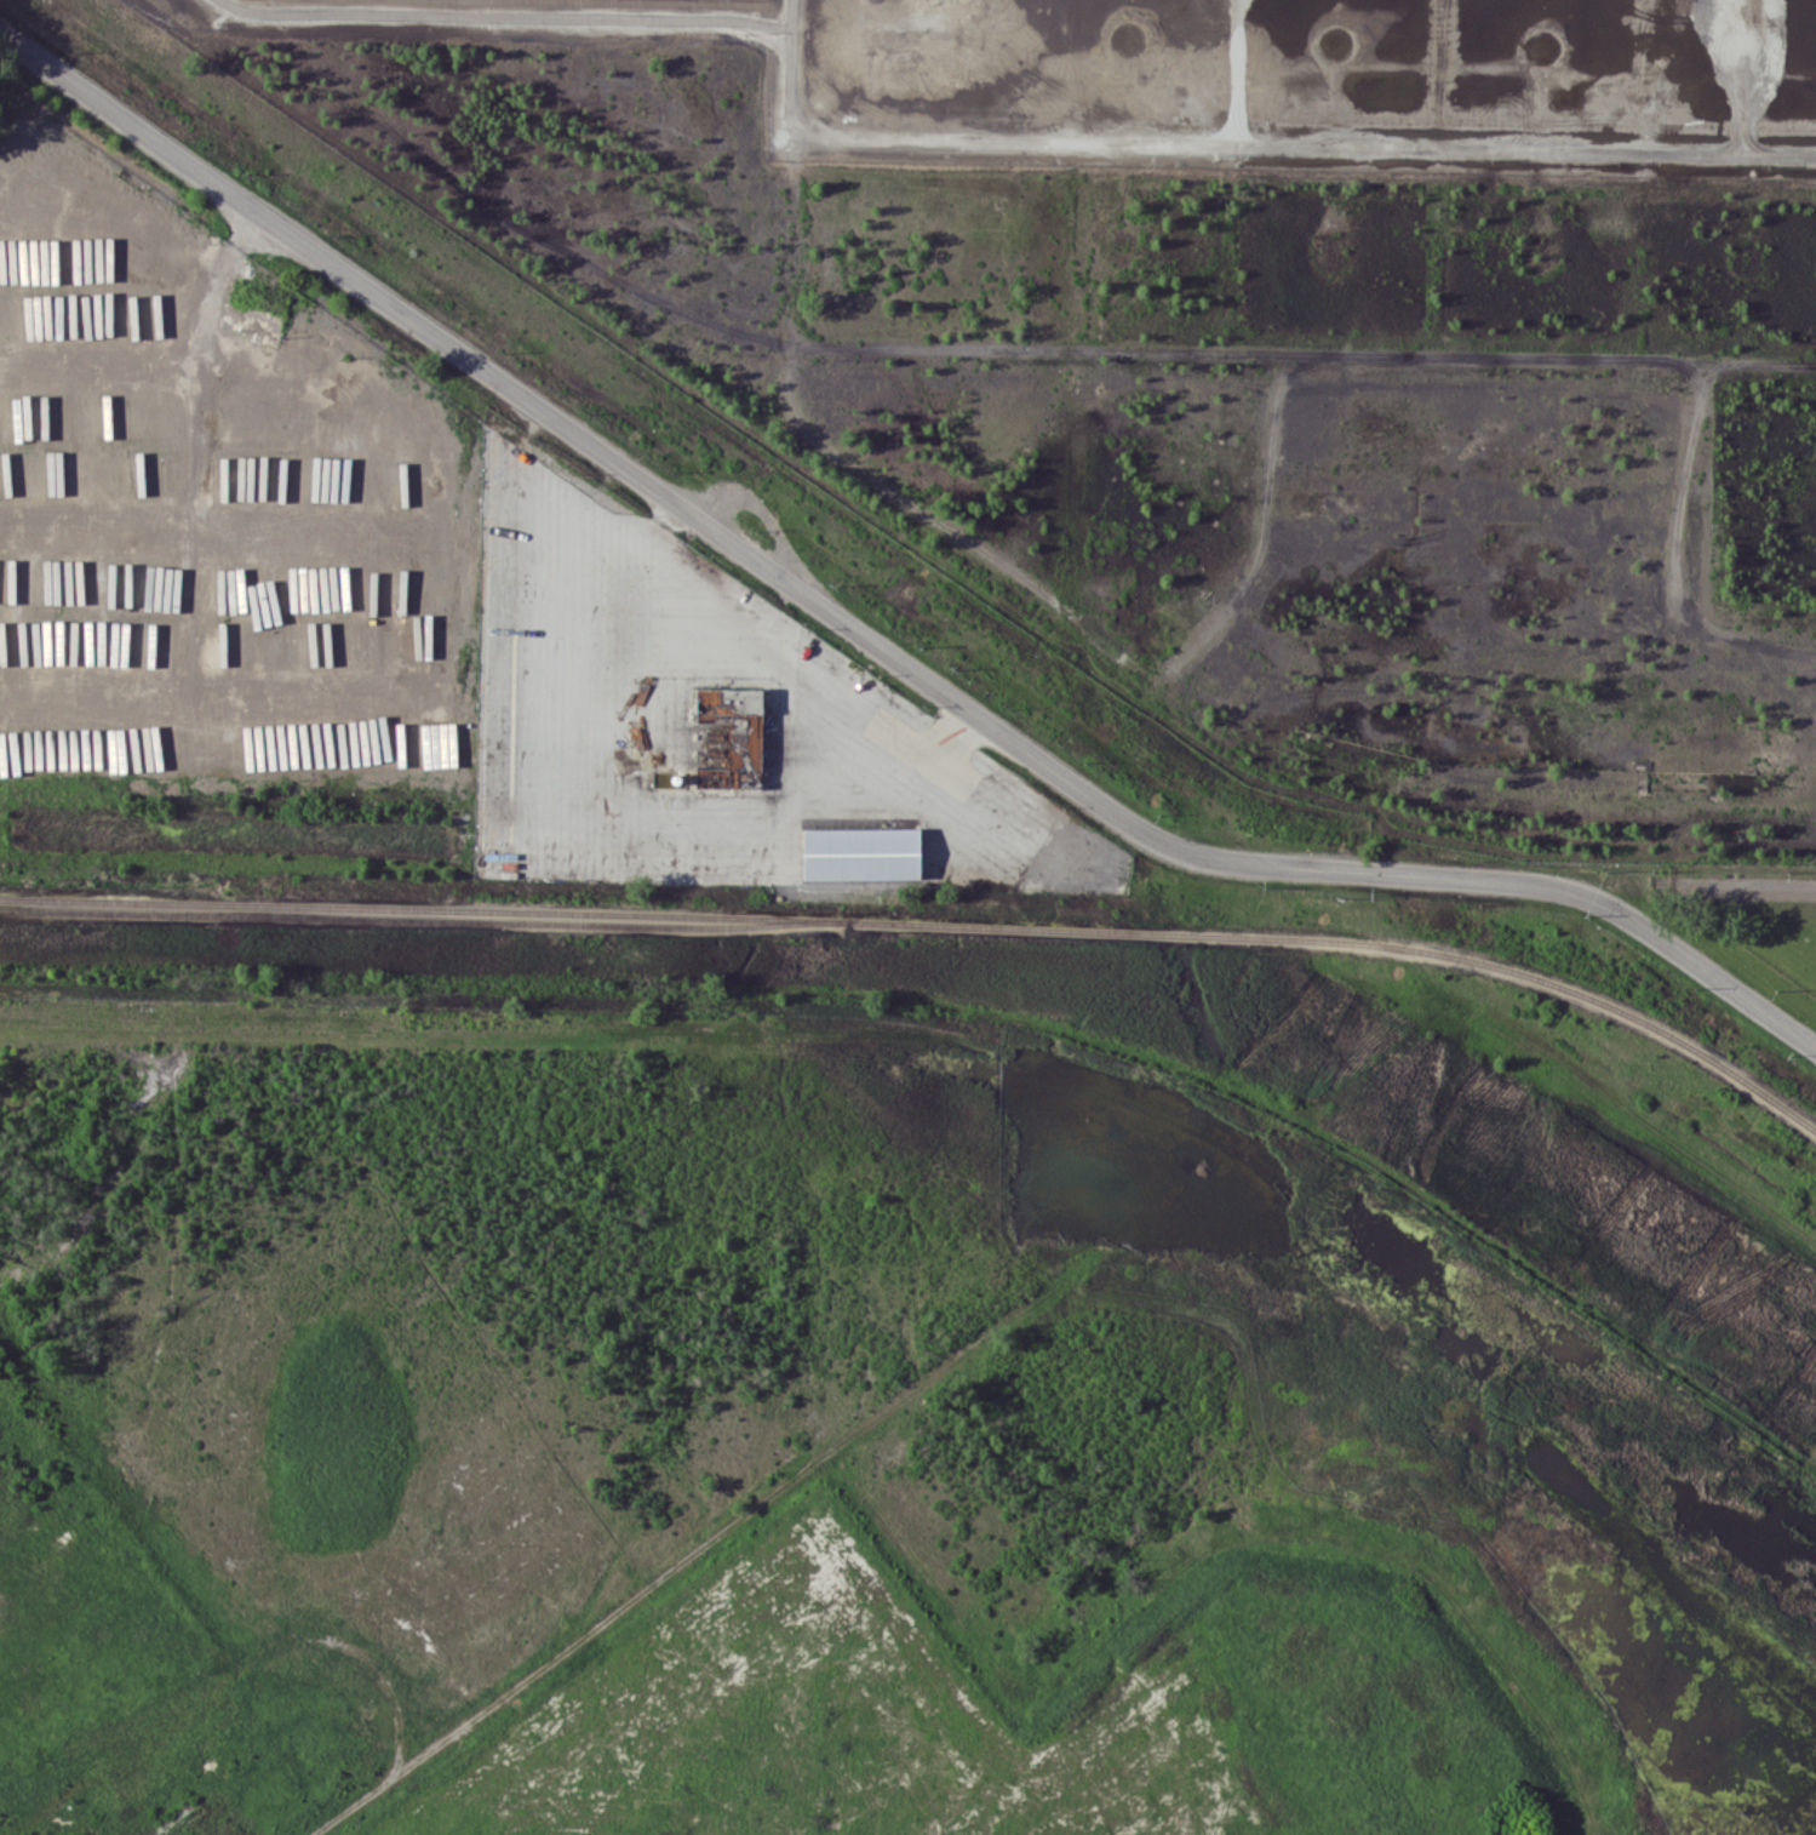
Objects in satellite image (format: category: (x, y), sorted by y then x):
road: (218, 280)
road: (93, 353)
road: (649, 521)
road: (721, 607)
road: (869, 641)
road: (460, 653)
building: (728, 737)
road: (923, 750)
building: (860, 852)
railway: (424, 920)
railway: (929, 922)
road: (800, 1471)
landfill: (757, 1700)

